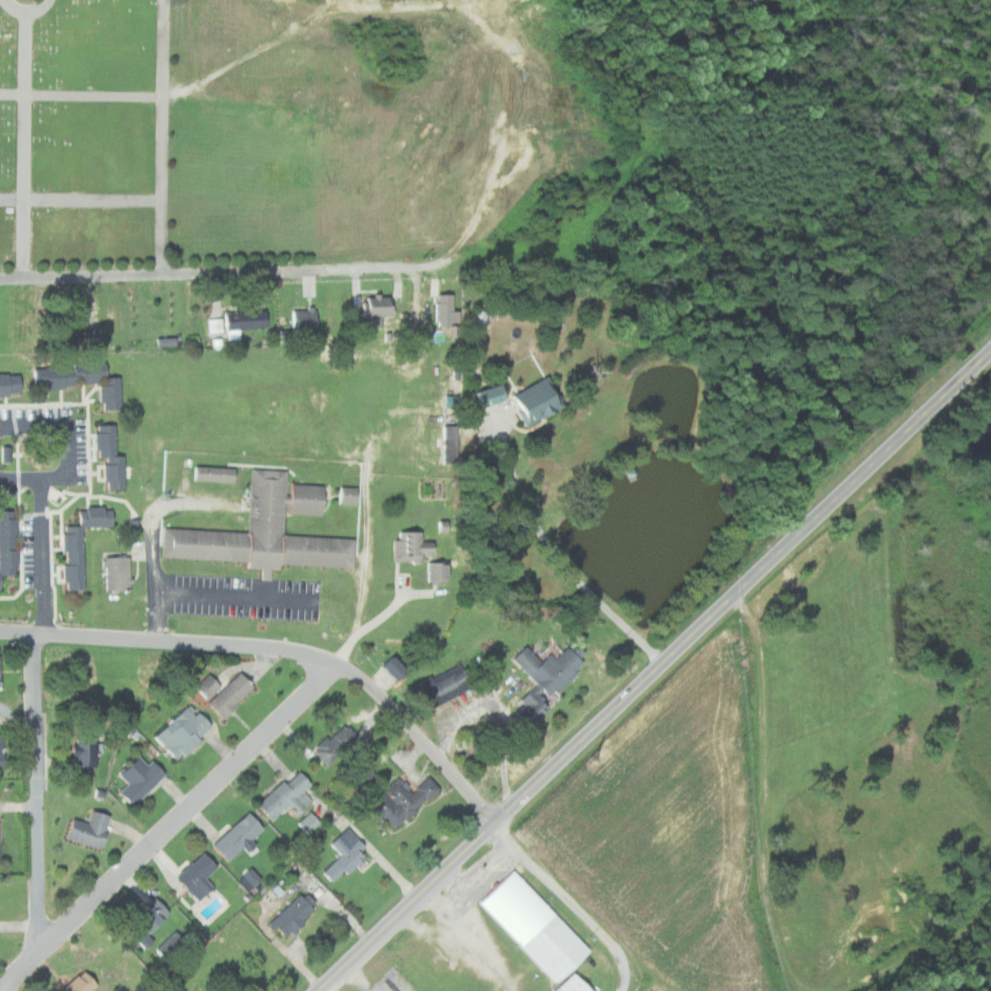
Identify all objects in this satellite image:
road: (27, 13)
road: (81, 93)
park: (81, 137)
road: (163, 137)
road: (25, 145)
road: (80, 200)
road: (218, 272)
building: (445, 306)
building: (379, 308)
building: (248, 320)
building: (479, 320)
building: (306, 321)
building: (212, 325)
building: (82, 379)
building: (11, 383)
building: (483, 396)
building: (538, 401)
road: (70, 450)
building: (112, 456)
building: (216, 473)
building: (351, 495)
building: (268, 529)
building: (83, 542)
building: (9, 543)
building: (407, 546)
road: (44, 555)
road: (555, 557)
building: (440, 571)
building: (119, 573)
road: (168, 641)
building: (386, 666)
building: (394, 671)
road: (658, 673)
building: (547, 676)
building: (448, 681)
building: (232, 693)
building: (186, 730)
building: (338, 742)
building: (1, 745)
building: (88, 748)
building: (142, 777)
road: (37, 790)
building: (289, 795)
building: (405, 800)
road: (485, 812)
building: (306, 821)
road: (166, 826)
building: (93, 829)
building: (241, 835)
building: (348, 854)
building: (249, 875)
building: (200, 876)
building: (295, 914)
building: (149, 921)
building: (529, 924)
building: (175, 947)
road: (623, 981)
building: (84, 983)
building: (568, 984)
building: (213, 990)

